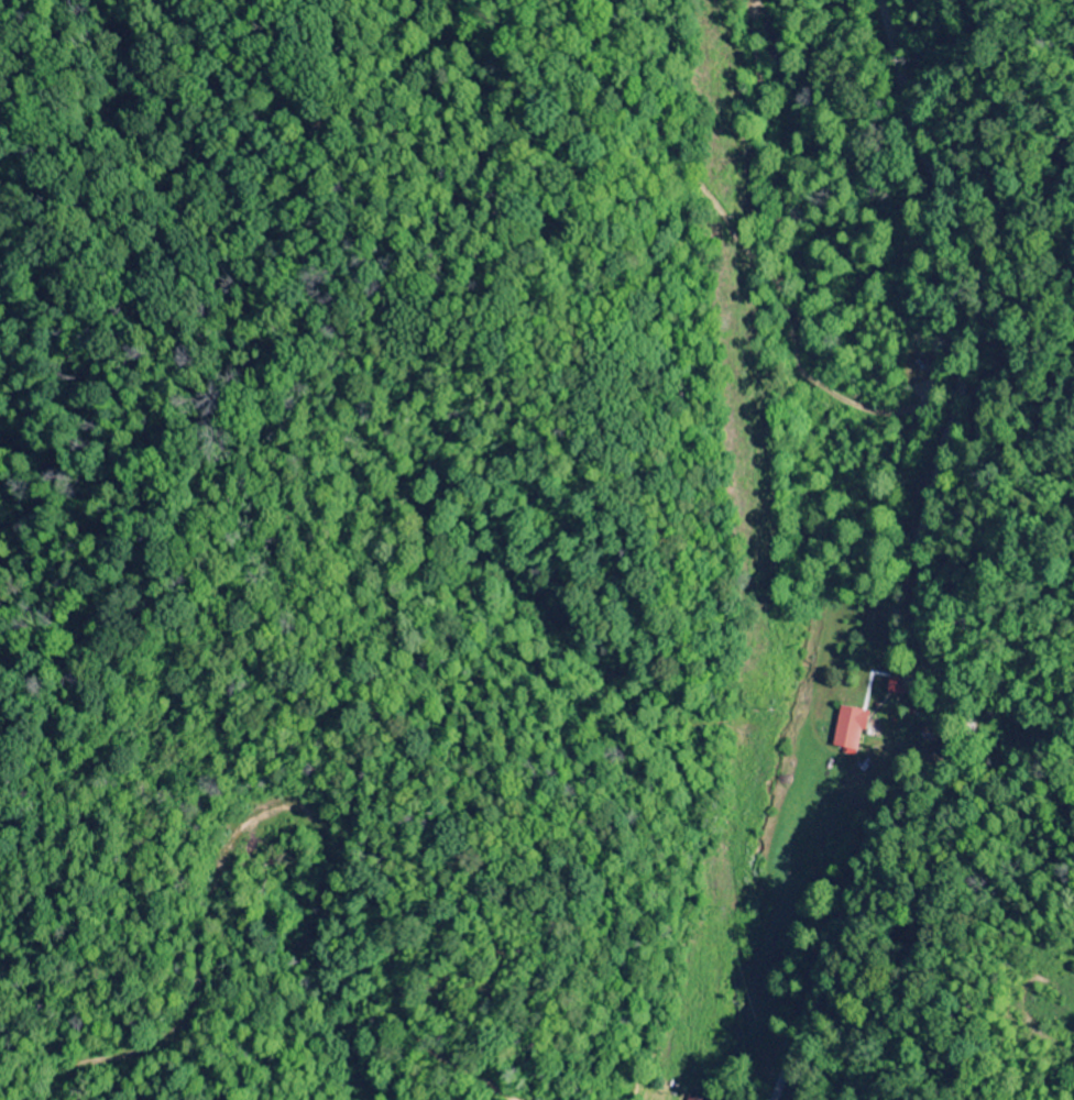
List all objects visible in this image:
road: (46, 460)
road: (919, 575)
building: (848, 729)

